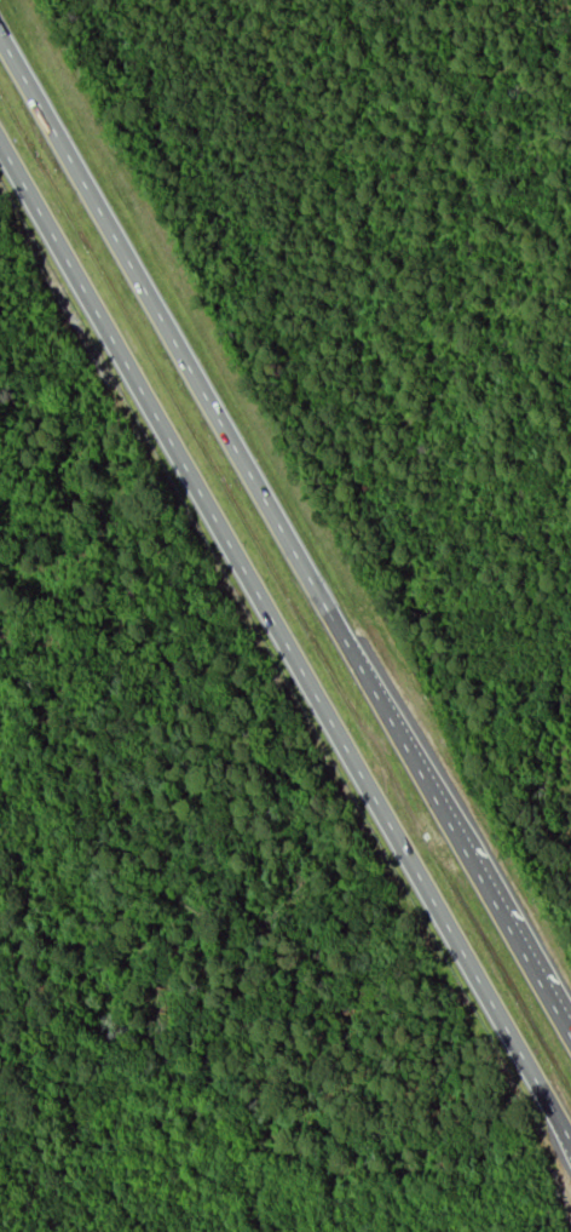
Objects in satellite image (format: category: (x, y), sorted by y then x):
road: (285, 532)
road: (284, 635)

